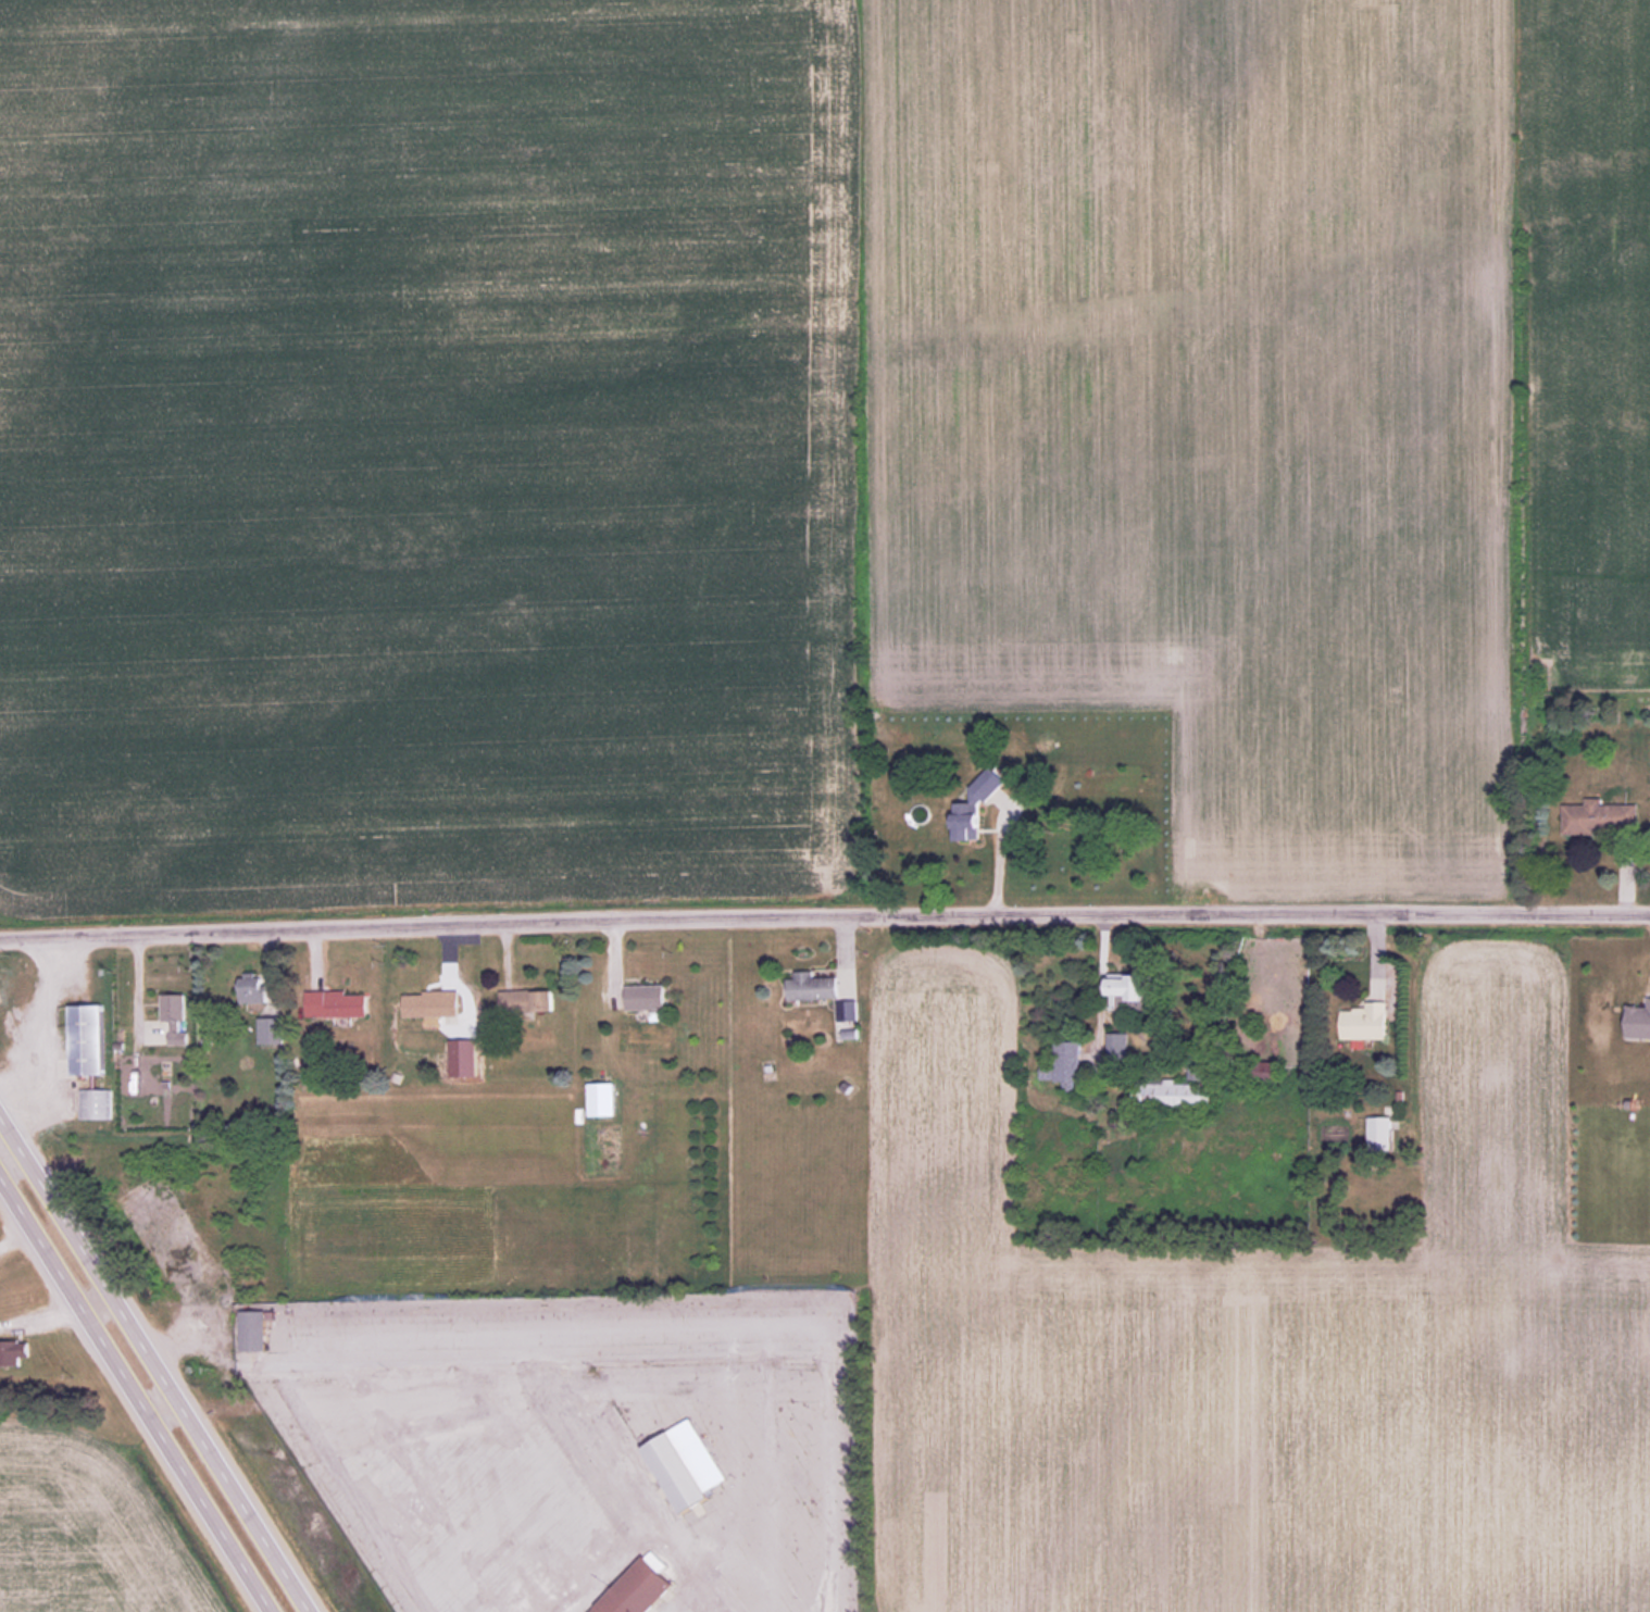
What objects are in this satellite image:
building: (975, 807)
building: (1600, 817)
road: (824, 910)
building: (812, 987)
building: (252, 988)
building: (1127, 989)
building: (646, 996)
road: (1101, 998)
building: (527, 1000)
building: (336, 1003)
building: (432, 1003)
building: (848, 1010)
building: (175, 1019)
building: (1637, 1021)
building: (1365, 1022)
building: (271, 1029)
building: (86, 1039)
building: (1118, 1047)
building: (1064, 1064)
building: (1268, 1072)
building: (1174, 1096)
building: (602, 1097)
building: (93, 1103)
building: (1379, 1134)
building: (252, 1330)
building: (10, 1353)
road: (158, 1359)
road: (135, 1394)
building: (685, 1465)
building: (637, 1589)

